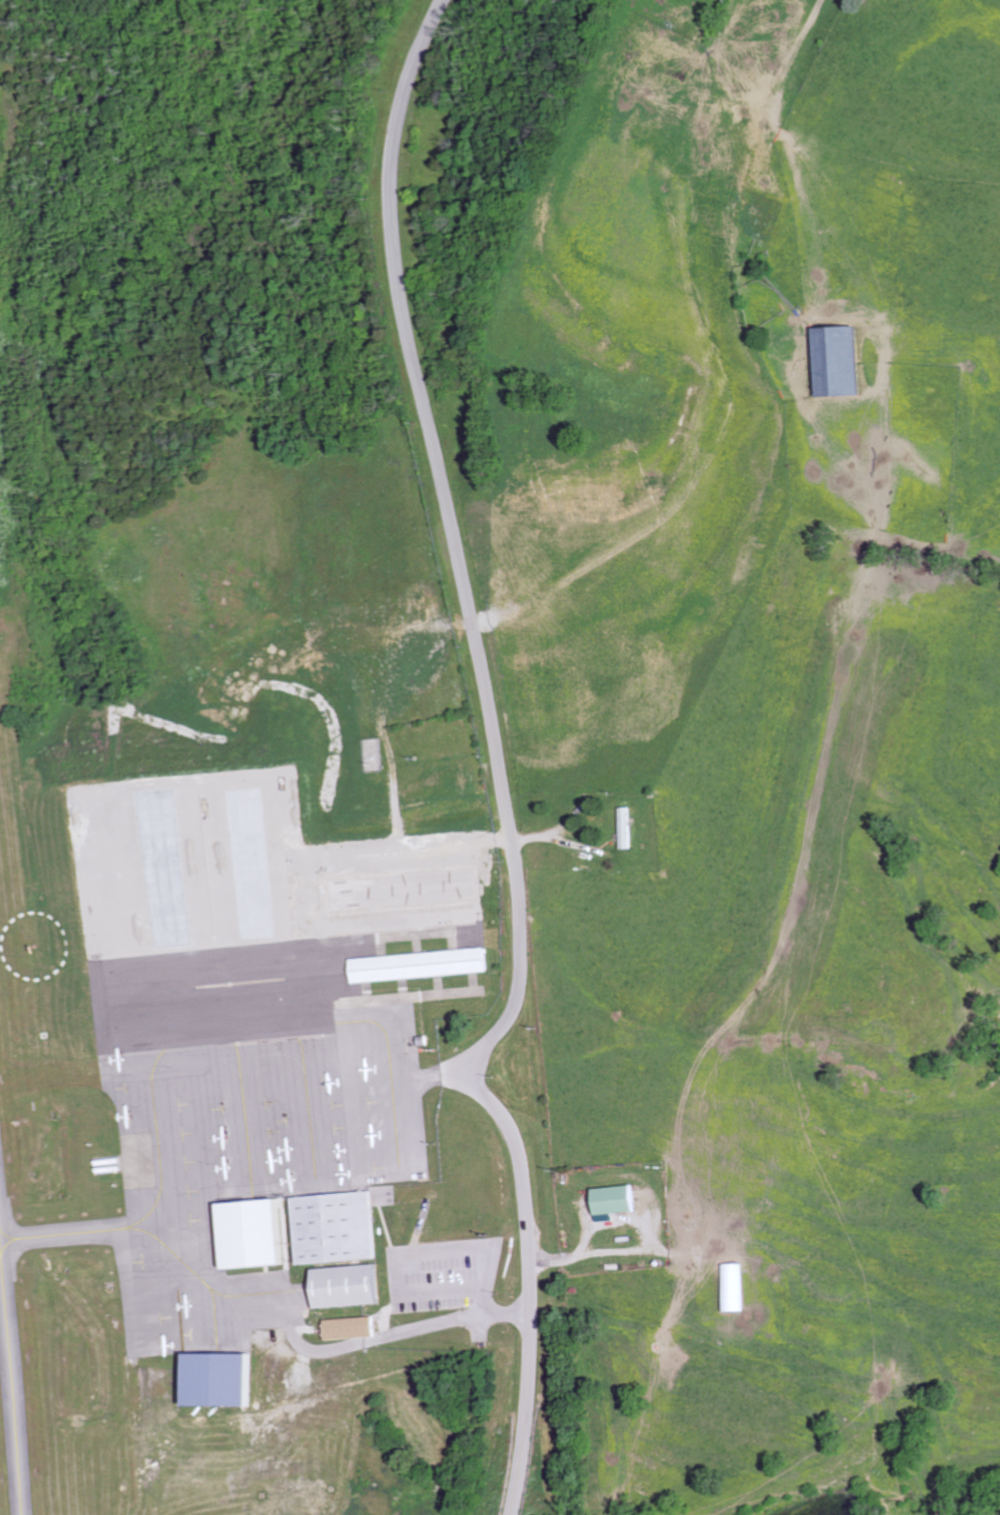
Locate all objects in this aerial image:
building: (843, 363)
road: (455, 541)
road: (660, 745)
building: (629, 828)
building: (422, 964)
airport taxiway: (55, 1076)
road: (382, 1099)
parking lot: (388, 1137)
airport apron: (227, 1154)
building: (618, 1202)
building: (337, 1226)
building: (257, 1234)
road: (443, 1253)
building: (346, 1285)
road: (530, 1285)
building: (354, 1328)
building: (219, 1377)
airport taxiway: (10, 1401)

